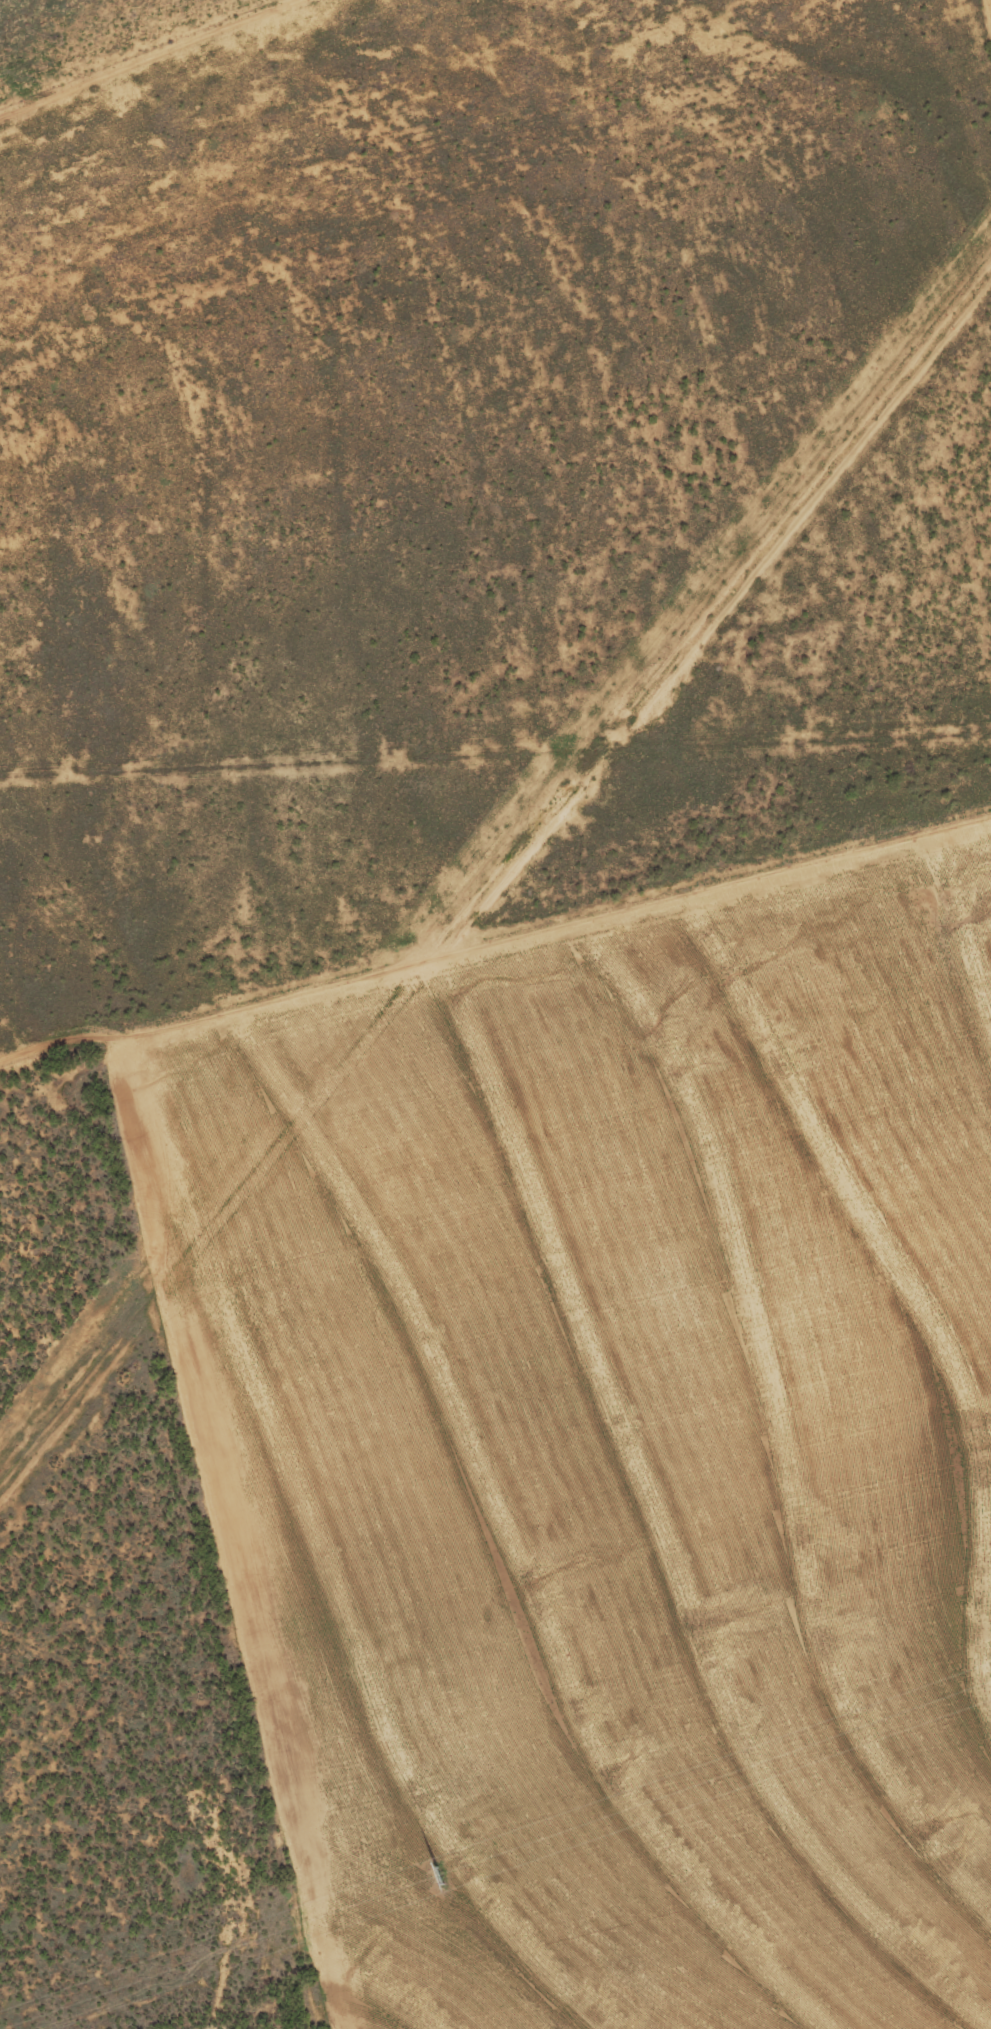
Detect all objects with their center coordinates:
power tower: (442, 1874)

